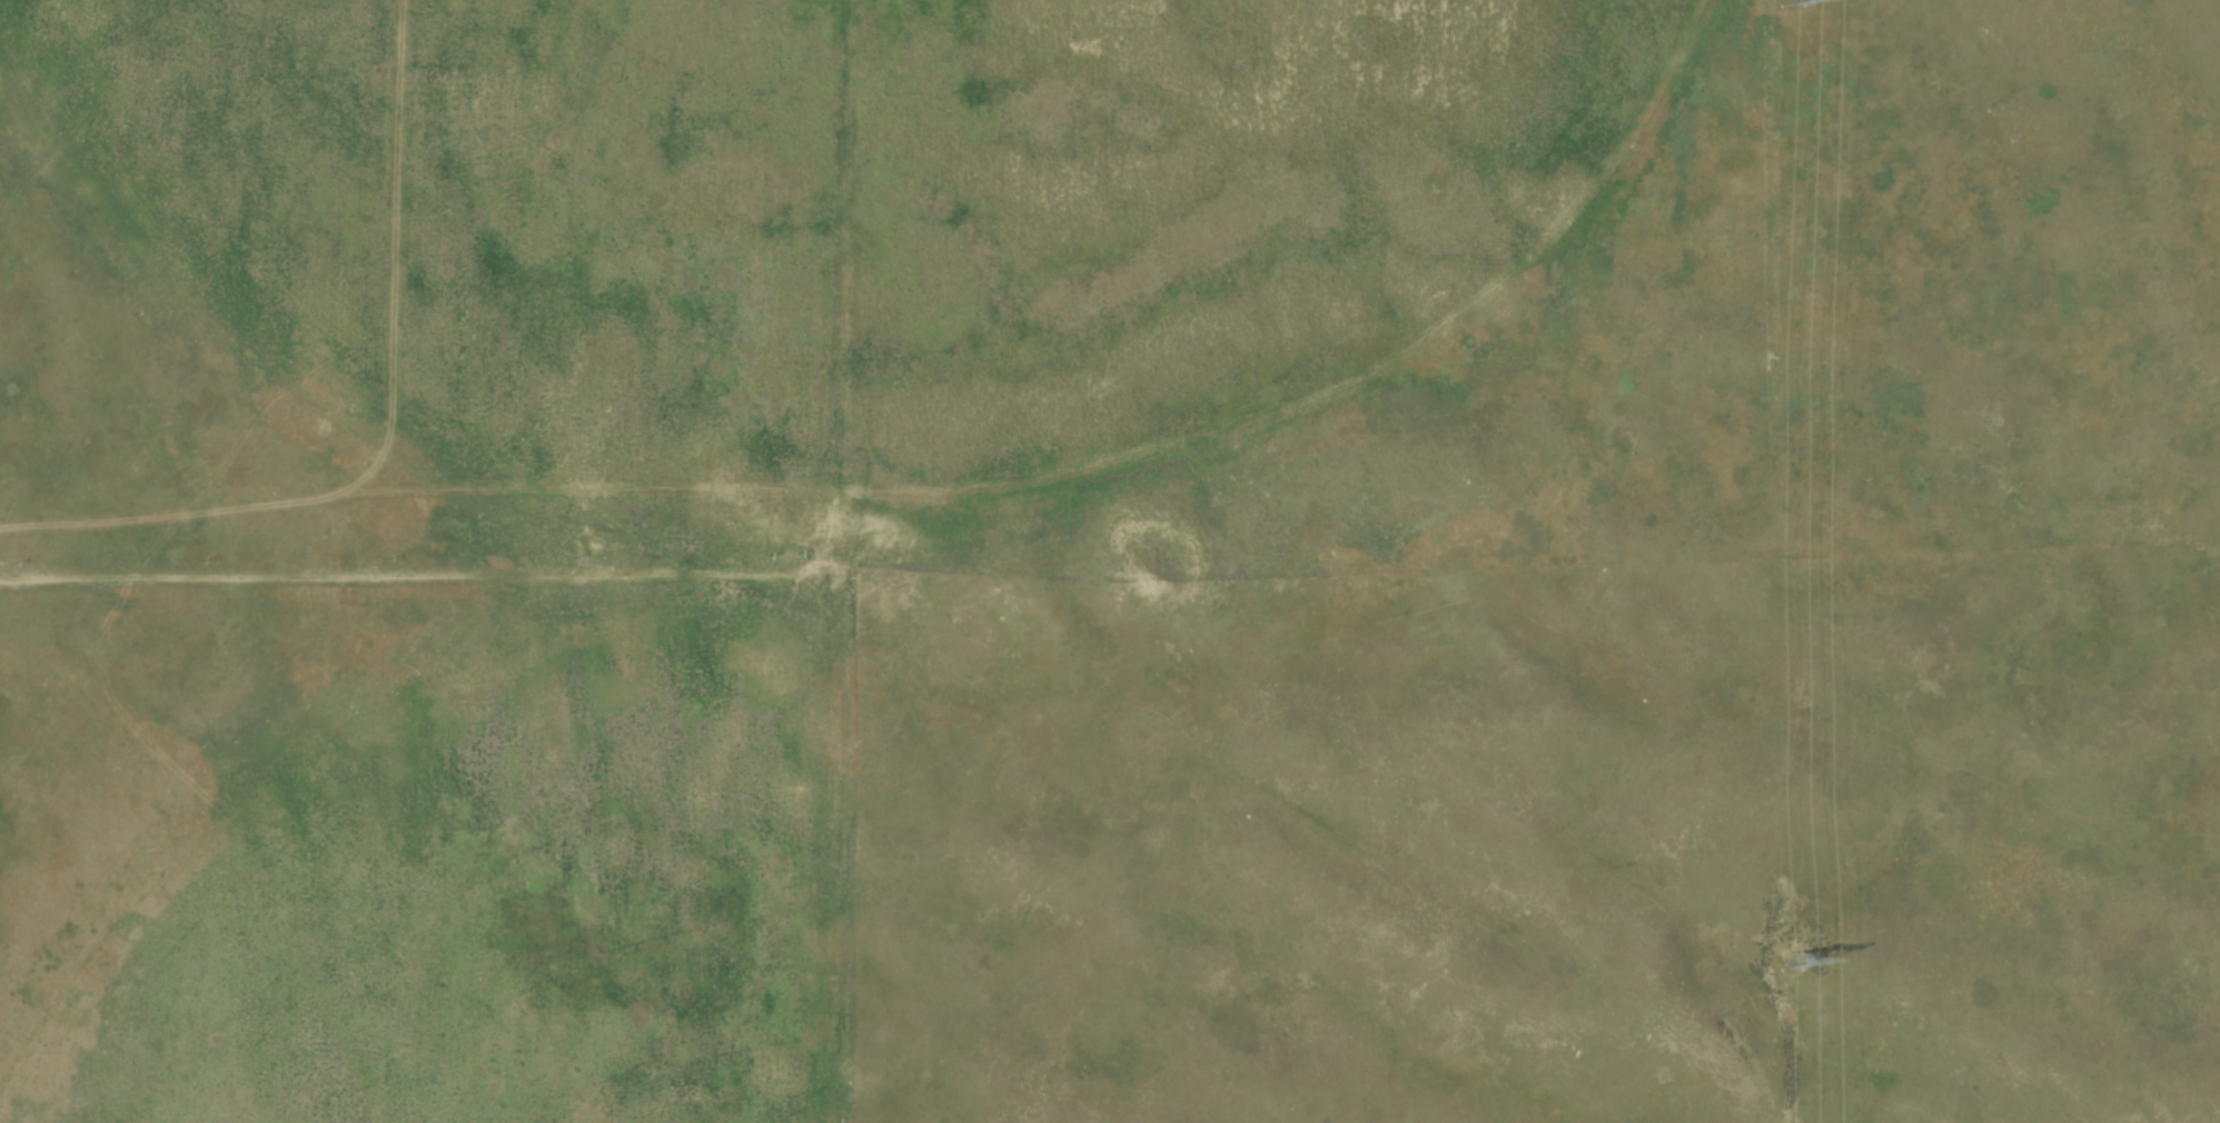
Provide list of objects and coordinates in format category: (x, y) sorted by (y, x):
power tower: (1792, 961)

